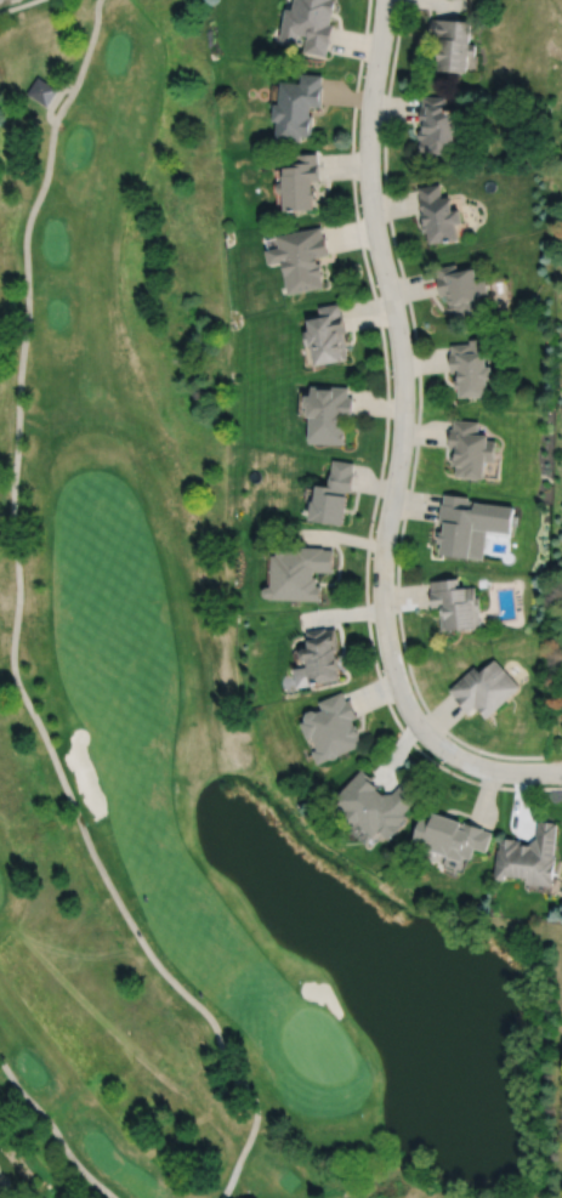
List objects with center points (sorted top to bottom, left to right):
road: (16, 5)
building: (311, 22)
building: (453, 42)
street lamp: (364, 63)
building: (44, 91)
building: (296, 104)
building: (437, 123)
building: (300, 181)
street lamp: (359, 212)
building: (438, 212)
building: (300, 256)
building: (462, 290)
building: (328, 334)
building: (471, 367)
street lamp: (390, 369)
building: (328, 413)
road: (418, 421)
road: (401, 442)
building: (471, 448)
road: (384, 455)
building: (334, 494)
building: (456, 526)
street lamp: (374, 529)
building: (297, 573)
building: (456, 604)
road: (13, 630)
building: (319, 659)
street lamp: (382, 672)
building: (484, 688)
park: (191, 722)
building: (333, 728)
street lamp: (445, 763)
building: (376, 806)
building: (450, 835)
building: (529, 855)
road: (52, 1130)
building: (1, 1190)

